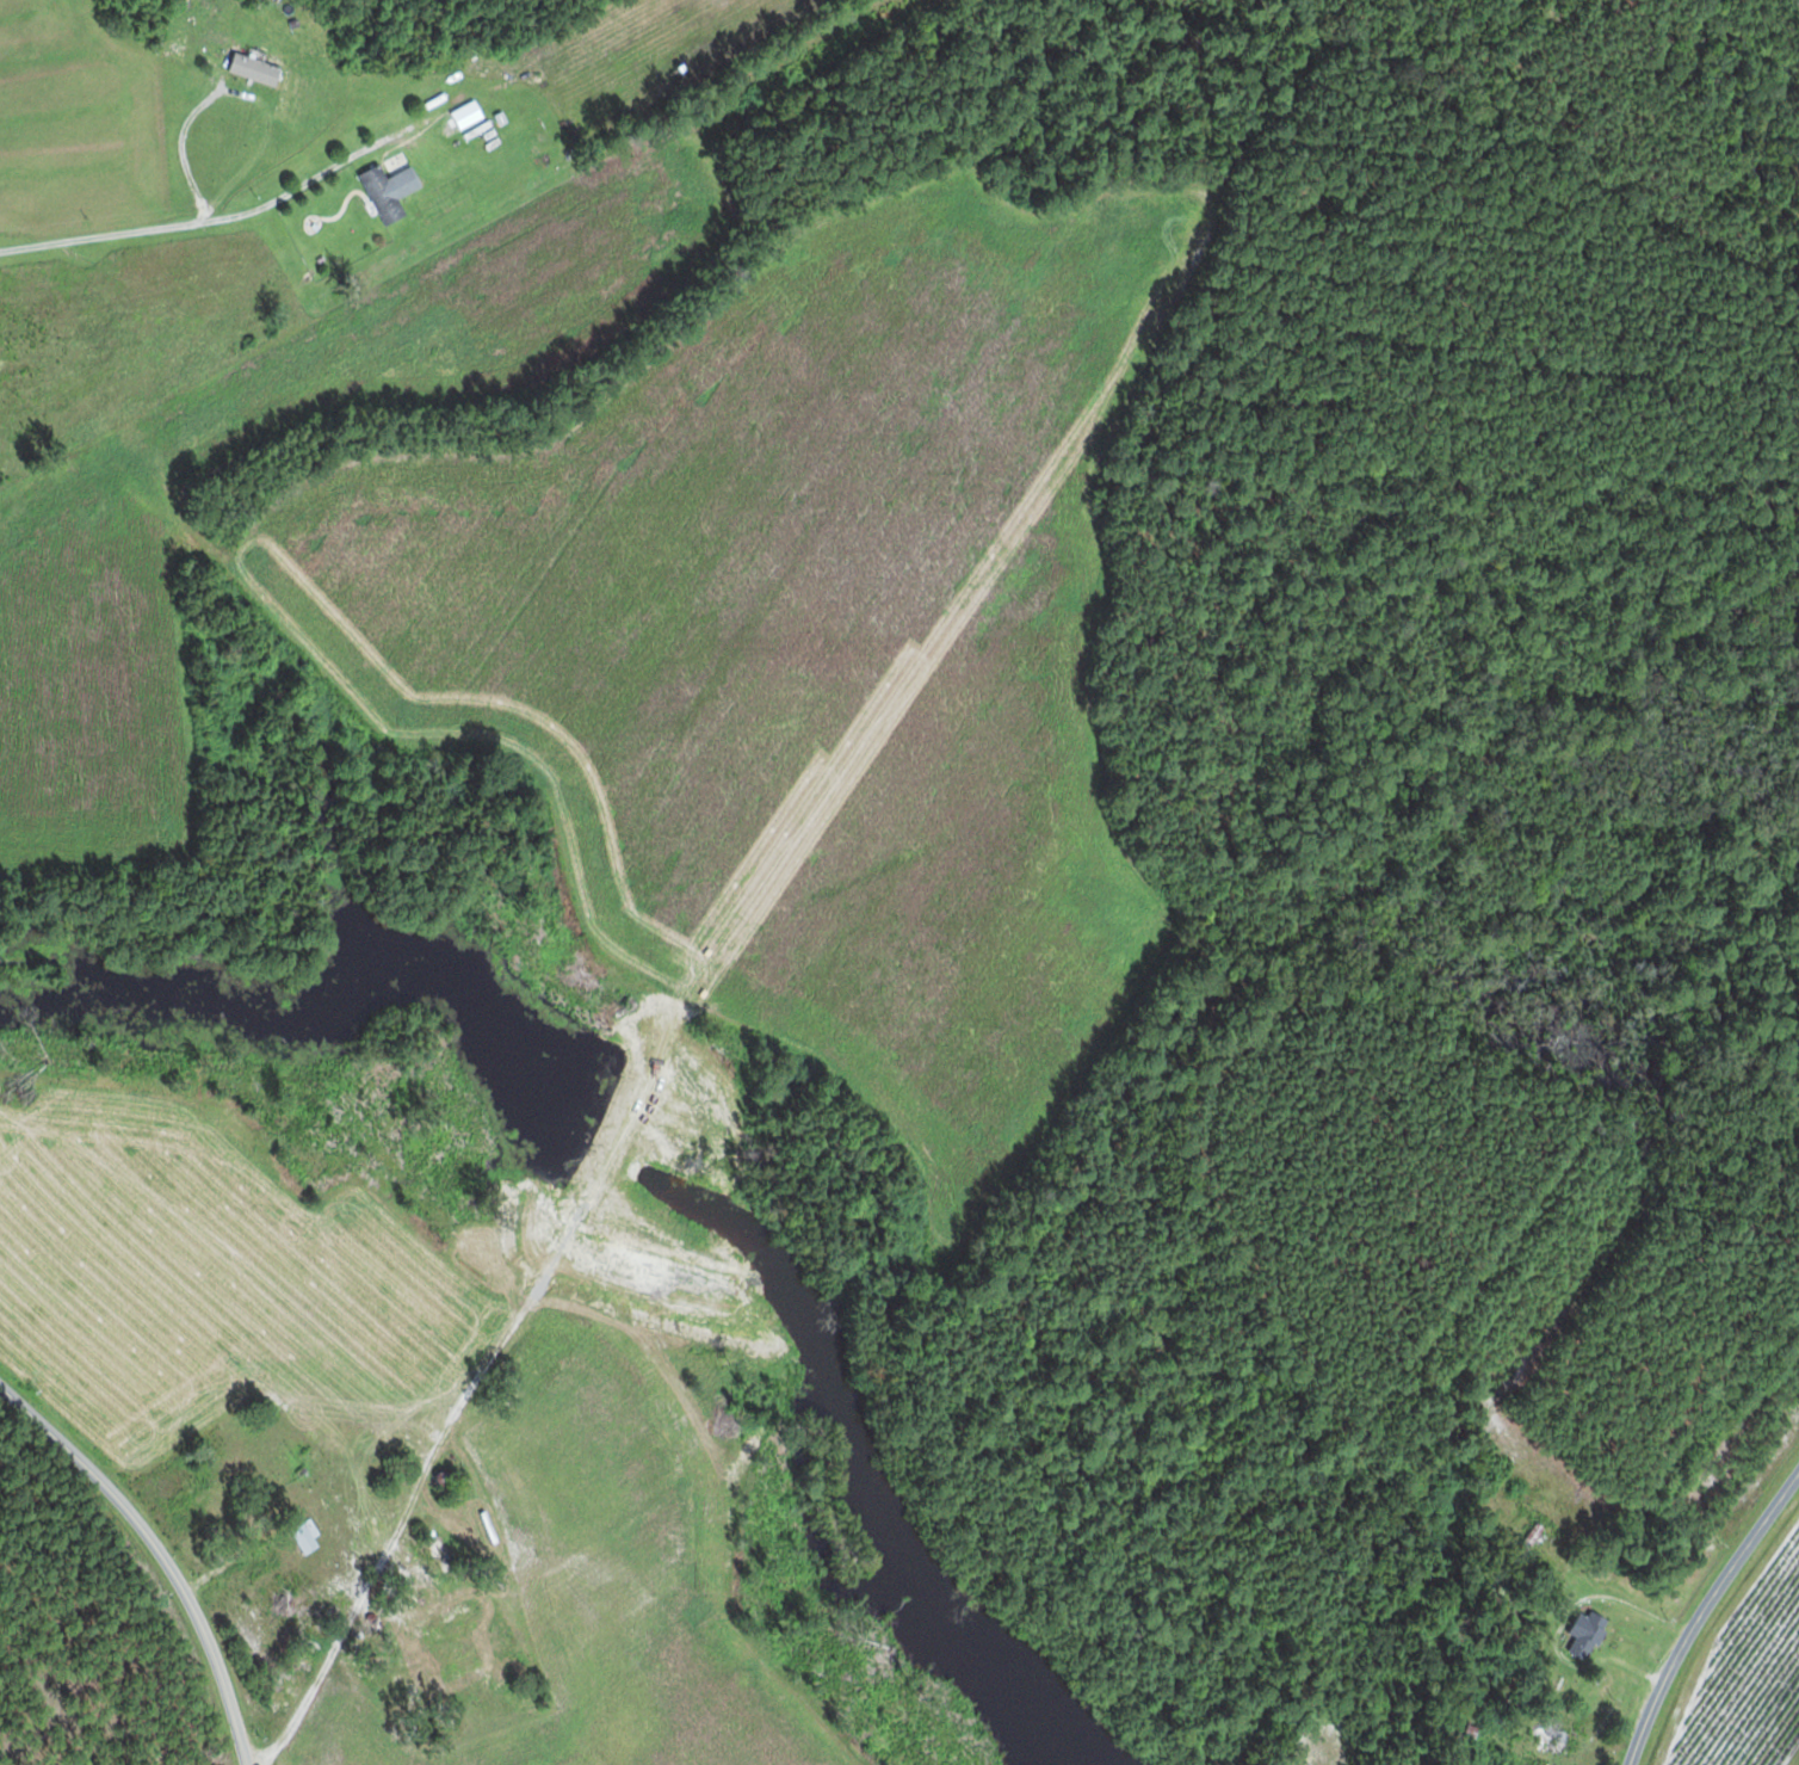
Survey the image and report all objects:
building: (391, 191)
road: (188, 222)
building: (221, 1504)
building: (307, 1536)
building: (1531, 1541)
road: (163, 1549)
road: (1708, 1616)
building: (470, 1630)
building: (1587, 1635)
building: (1557, 1740)

